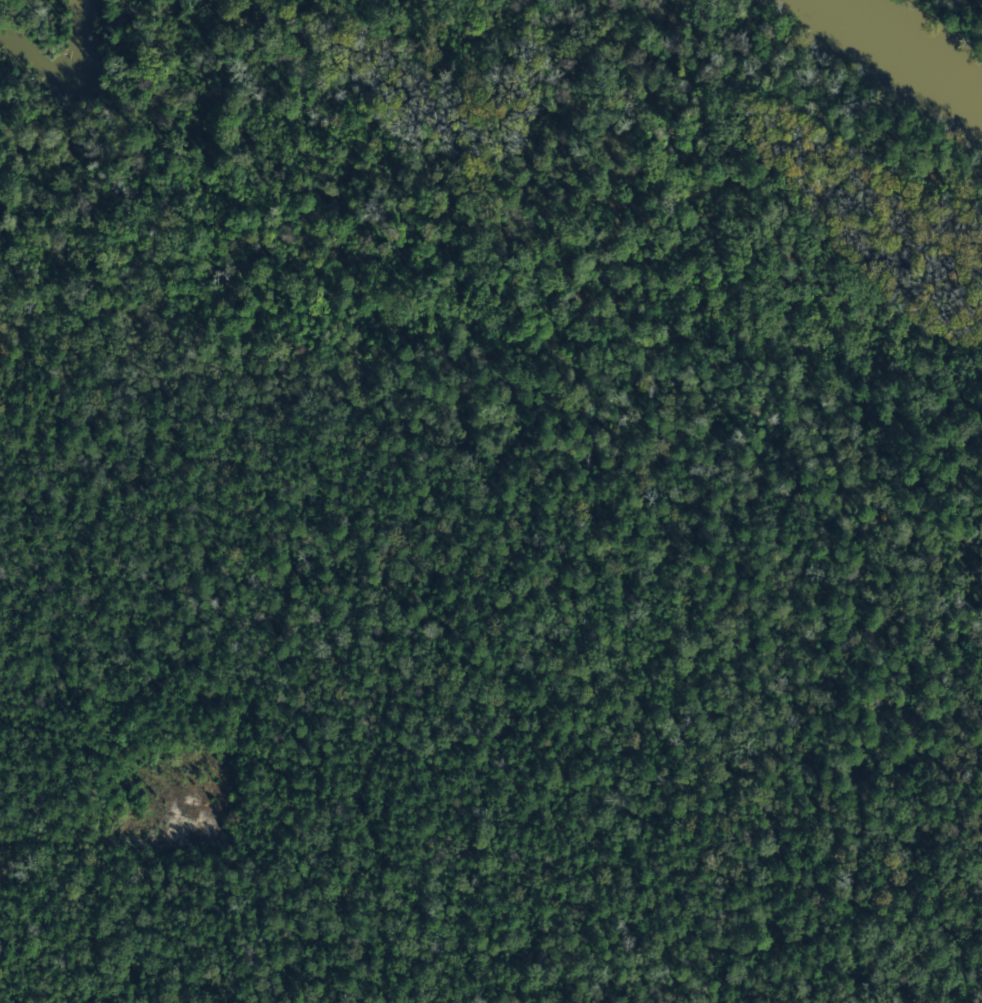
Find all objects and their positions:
river: (913, 43)

